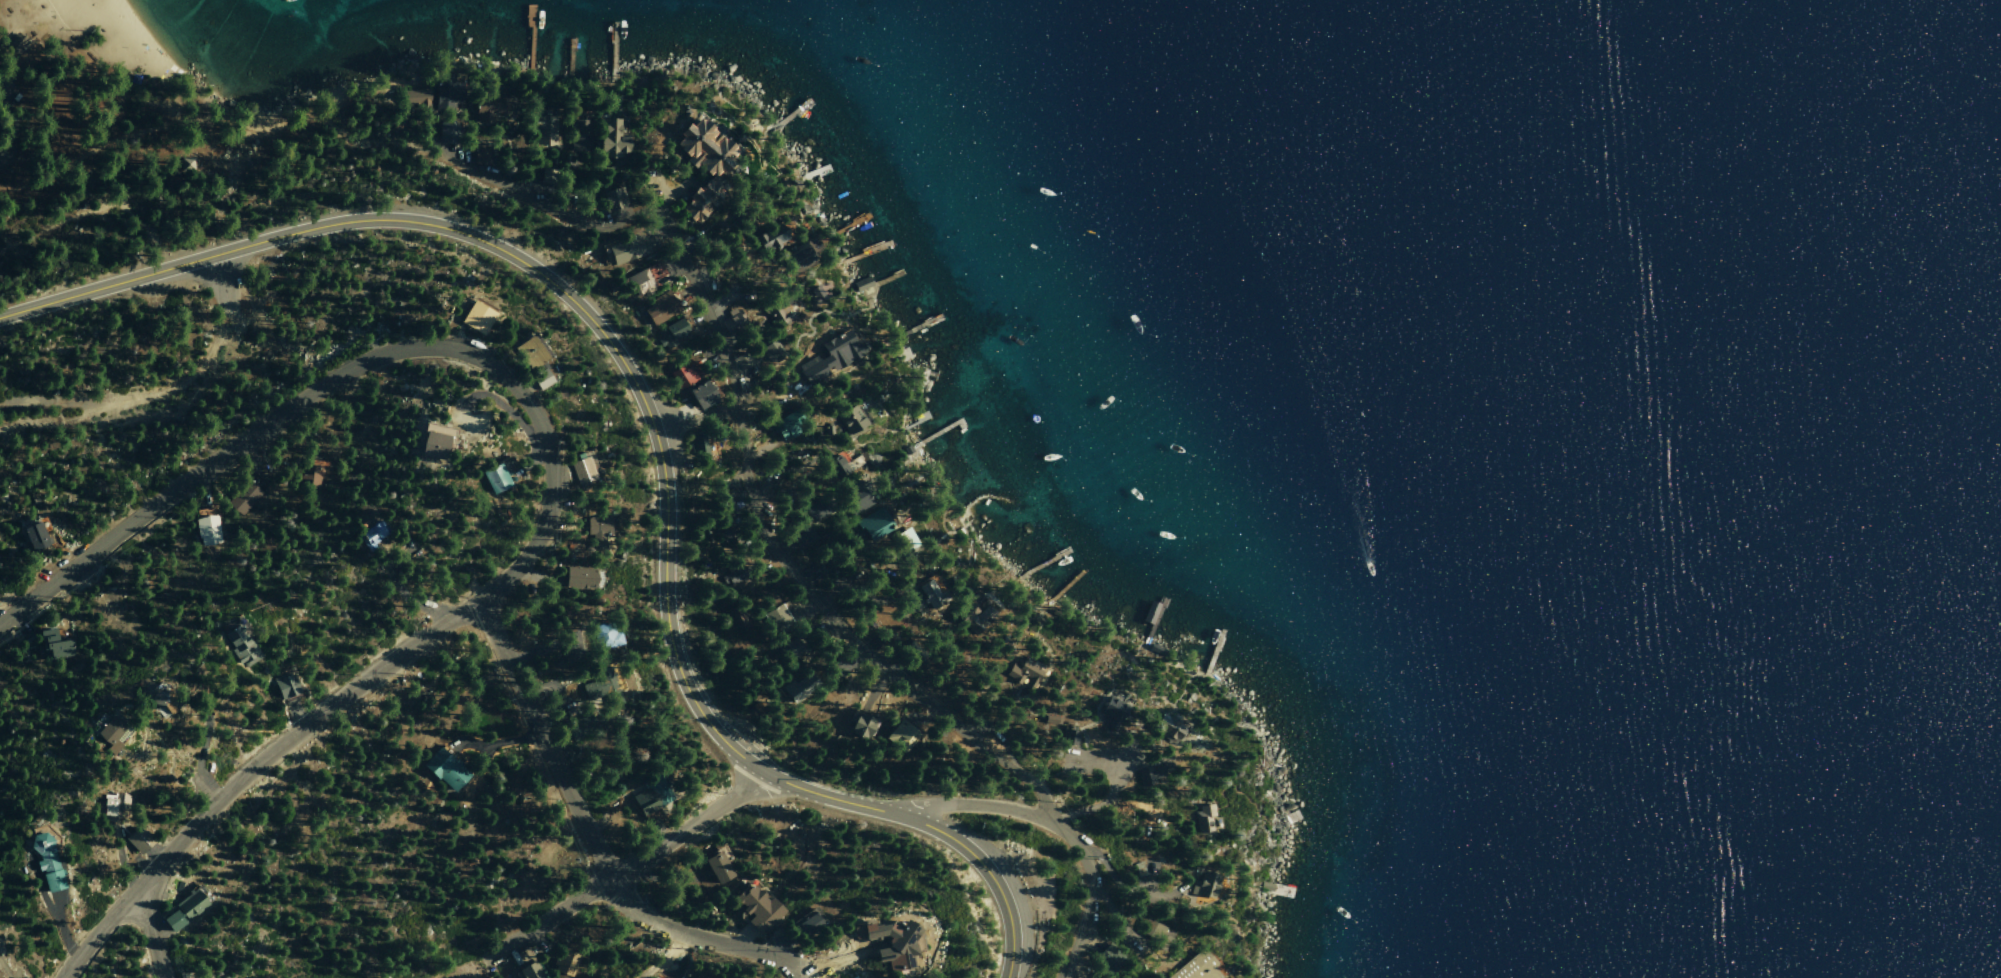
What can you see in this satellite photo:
pier: (530, 36)
building: (14, 43)
pier: (613, 47)
pier: (569, 58)
building: (444, 91)
building: (414, 98)
building: (488, 111)
pier: (792, 114)
road: (4, 123)
road: (215, 123)
building: (542, 131)
building: (444, 133)
building: (579, 133)
building: (609, 142)
building: (702, 148)
building: (478, 157)
building: (185, 165)
pier: (817, 174)
building: (612, 200)
building: (699, 202)
road: (546, 204)
pier: (850, 225)
building: (768, 236)
building: (624, 248)
pier: (866, 253)
building: (800, 254)
road: (213, 282)
building: (639, 282)
pier: (883, 282)
building: (659, 307)
building: (777, 310)
building: (476, 317)
building: (733, 322)
pier: (917, 327)
building: (669, 333)
building: (844, 346)
building: (530, 351)
building: (770, 351)
road: (348, 367)
building: (682, 374)
building: (539, 378)
pier: (920, 381)
road: (191, 384)
building: (699, 394)
road: (107, 404)
road: (693, 417)
road: (649, 419)
building: (850, 419)
pier: (916, 420)
building: (782, 427)
pier: (942, 429)
building: (696, 443)
building: (836, 466)
building: (583, 469)
building: (310, 474)
building: (494, 478)
building: (243, 493)
building: (853, 498)
building: (813, 510)
building: (872, 524)
building: (205, 526)
building: (598, 531)
building: (371, 534)
building: (798, 534)
building: (33, 535)
building: (904, 544)
pier: (1044, 563)
road: (786, 565)
building: (731, 574)
building: (577, 577)
pier: (1067, 585)
building: (930, 593)
building: (734, 615)
building: (970, 616)
building: (776, 620)
pier: (1153, 622)
building: (604, 636)
building: (52, 645)
building: (240, 645)
building: (789, 649)
pier: (1213, 654)
building: (1023, 675)
building: (804, 684)
building: (283, 686)
building: (151, 696)
building: (1113, 711)
building: (858, 725)
building: (579, 727)
building: (1166, 727)
building: (110, 733)
building: (900, 735)
building: (1069, 737)
road: (252, 767)
building: (442, 769)
building: (1148, 774)
building: (650, 797)
road: (981, 805)
pier: (1295, 819)
building: (1204, 820)
road: (593, 846)
building: (44, 861)
road: (632, 864)
building: (717, 865)
building: (1204, 885)
pier: (1274, 889)
road: (1088, 898)
building: (187, 905)
building: (755, 908)
building: (169, 921)
building: (807, 924)
road: (149, 930)
building: (888, 944)
building: (1106, 959)
building: (563, 962)
road: (475, 964)
building: (1196, 967)
building: (526, 971)

